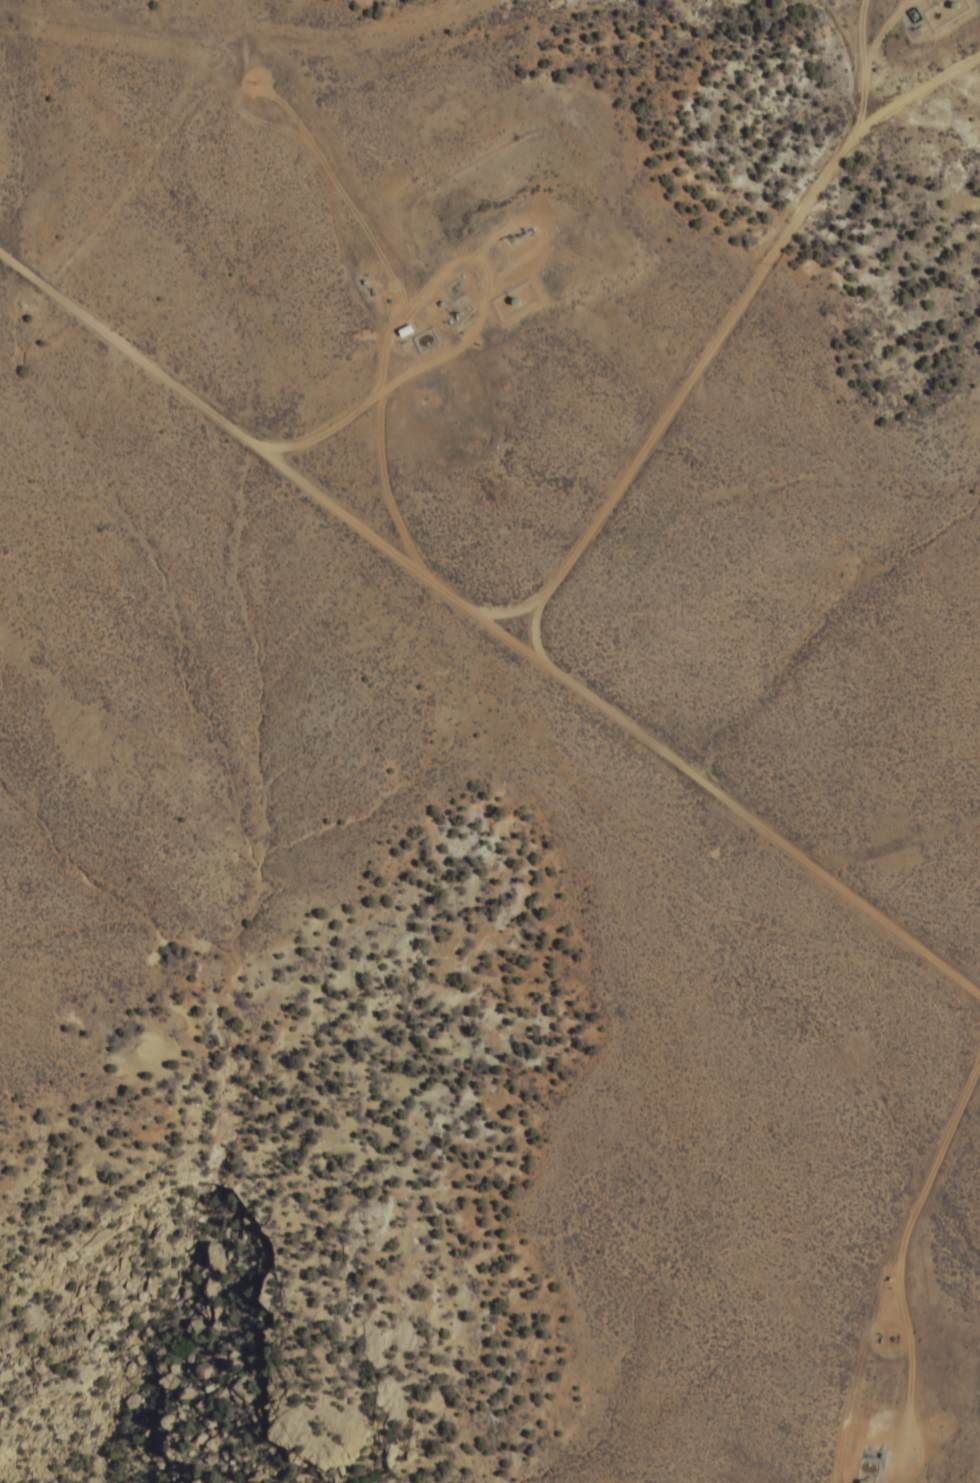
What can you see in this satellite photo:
road: (341, 166)
building: (515, 300)
road: (727, 303)
road: (505, 587)
road: (921, 1180)

